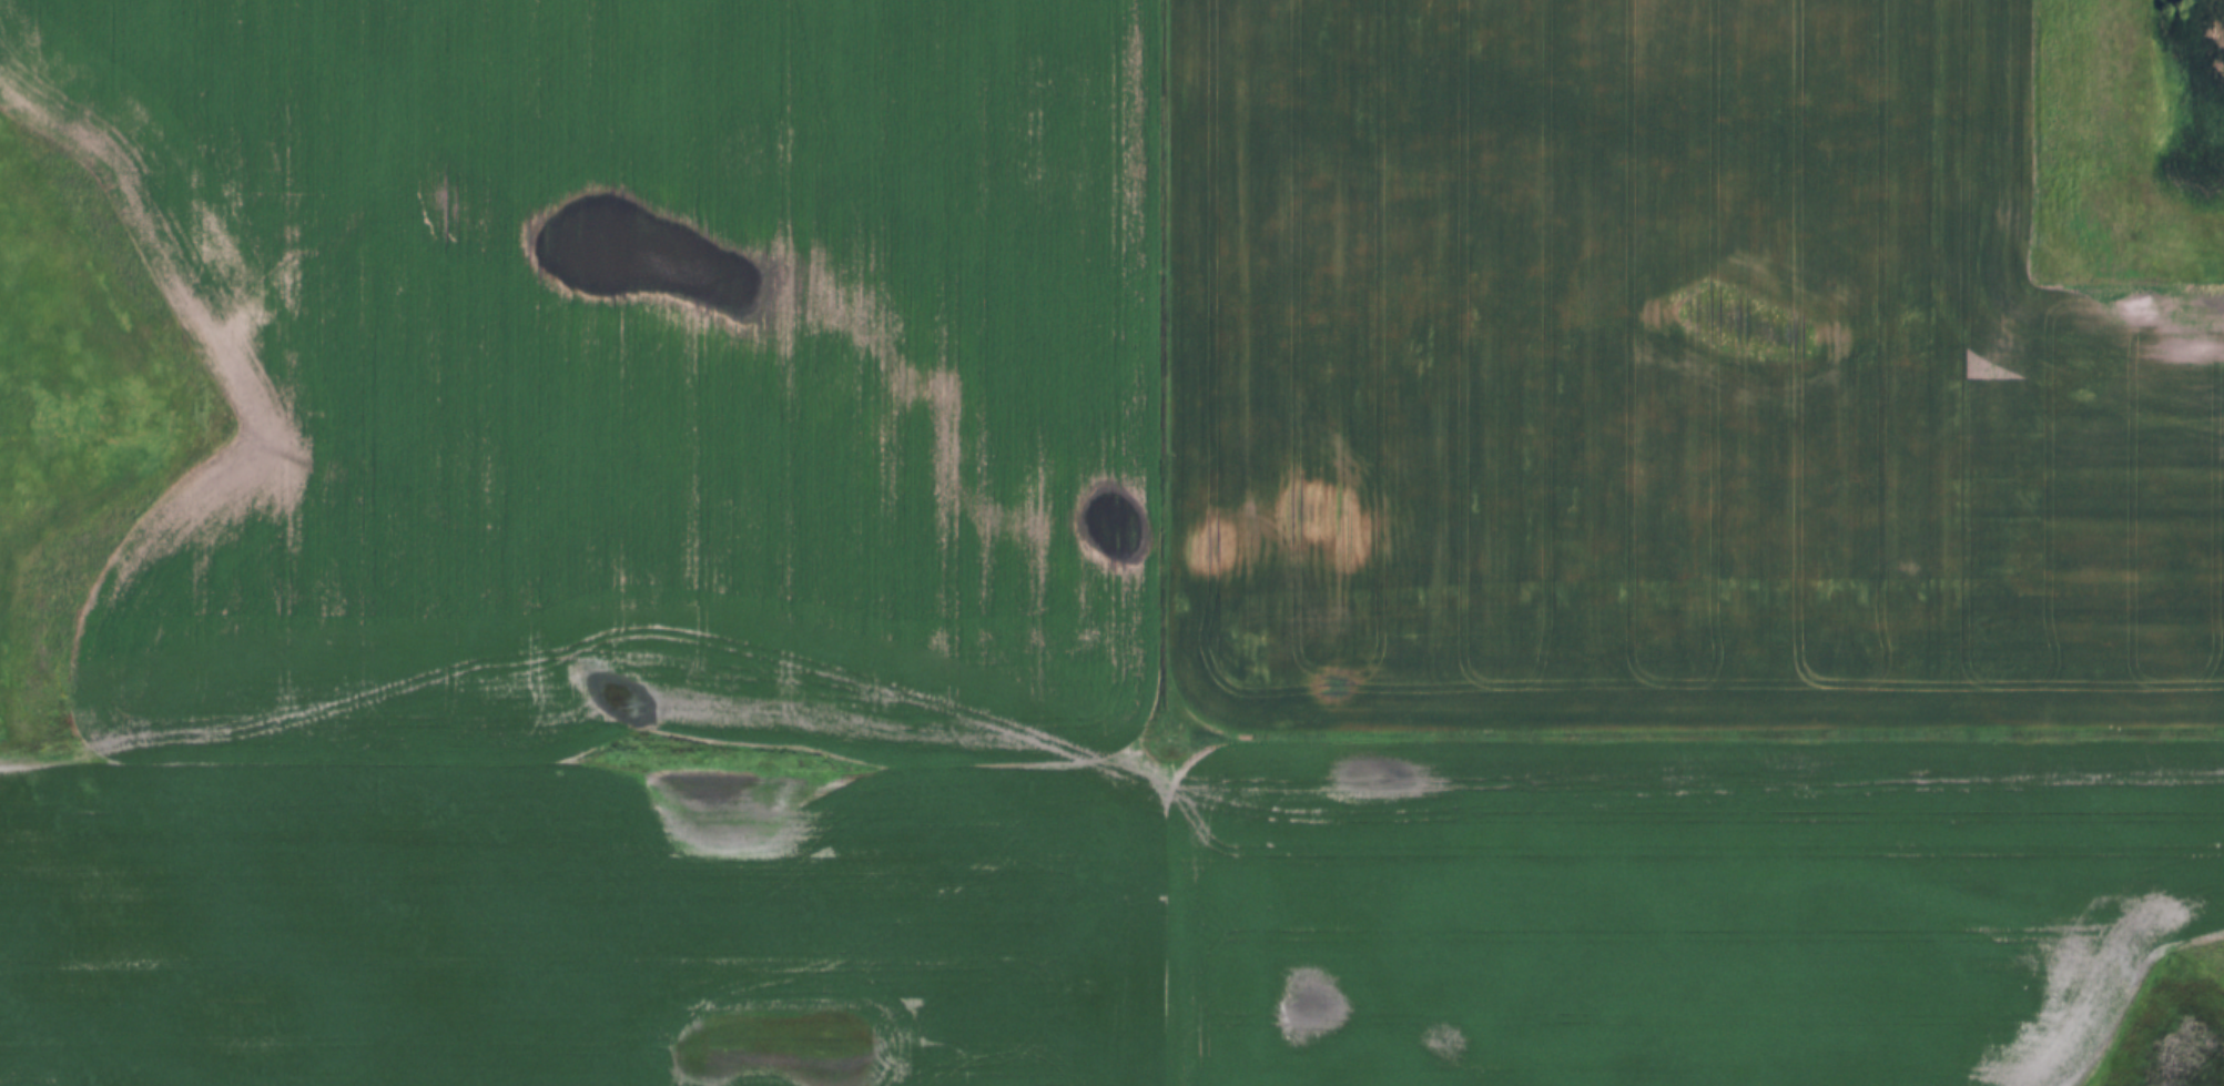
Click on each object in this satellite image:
road: (182, 451)

